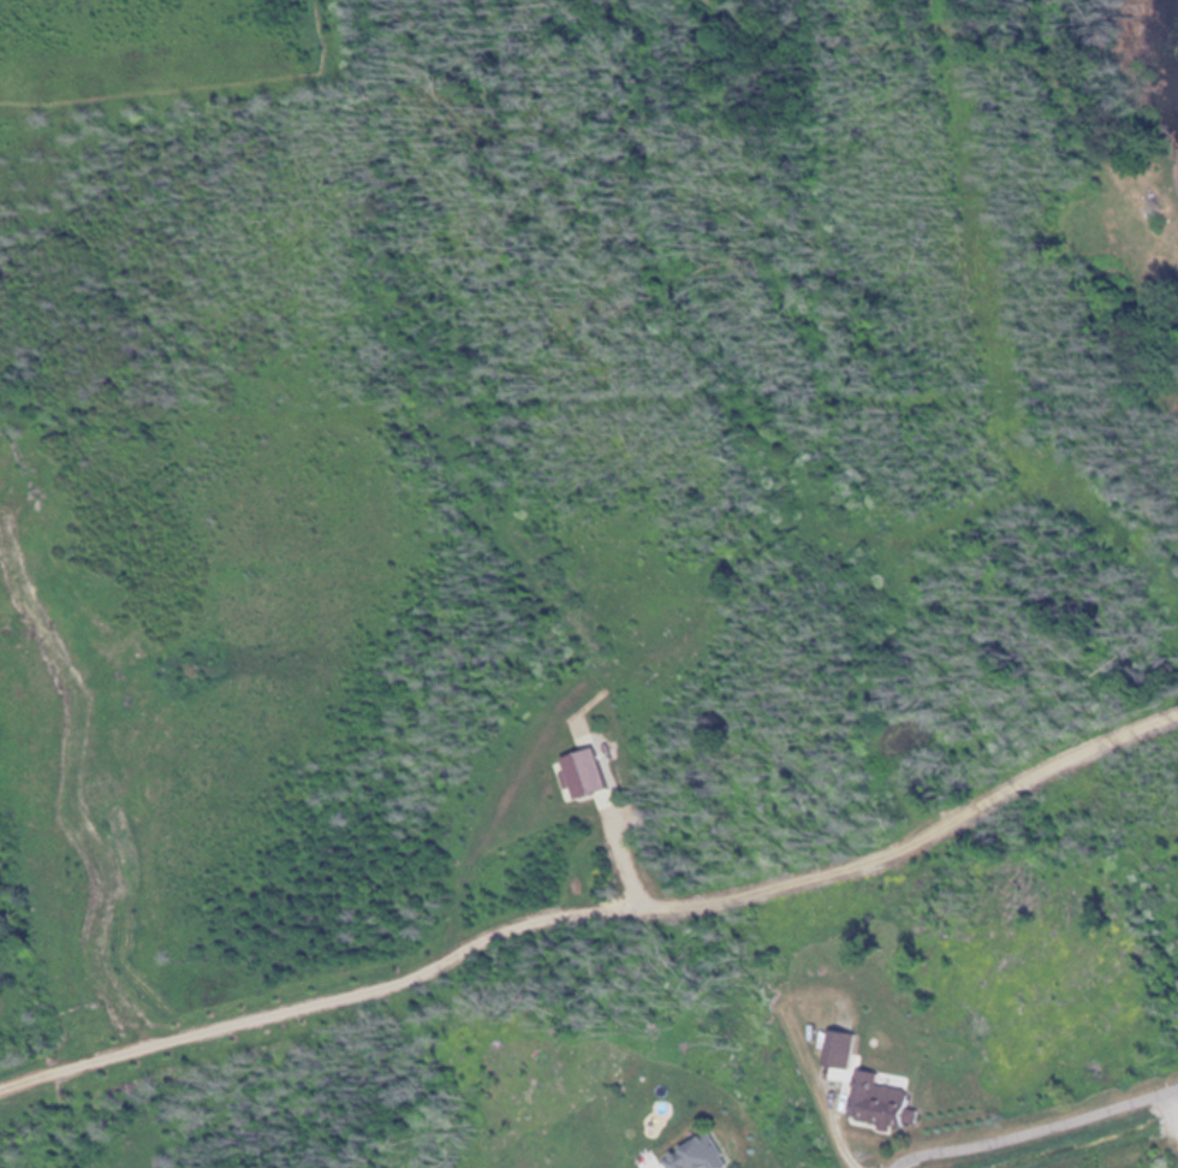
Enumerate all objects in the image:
road: (958, 20)
building: (888, 1099)
road: (1034, 1127)
building: (708, 1154)

